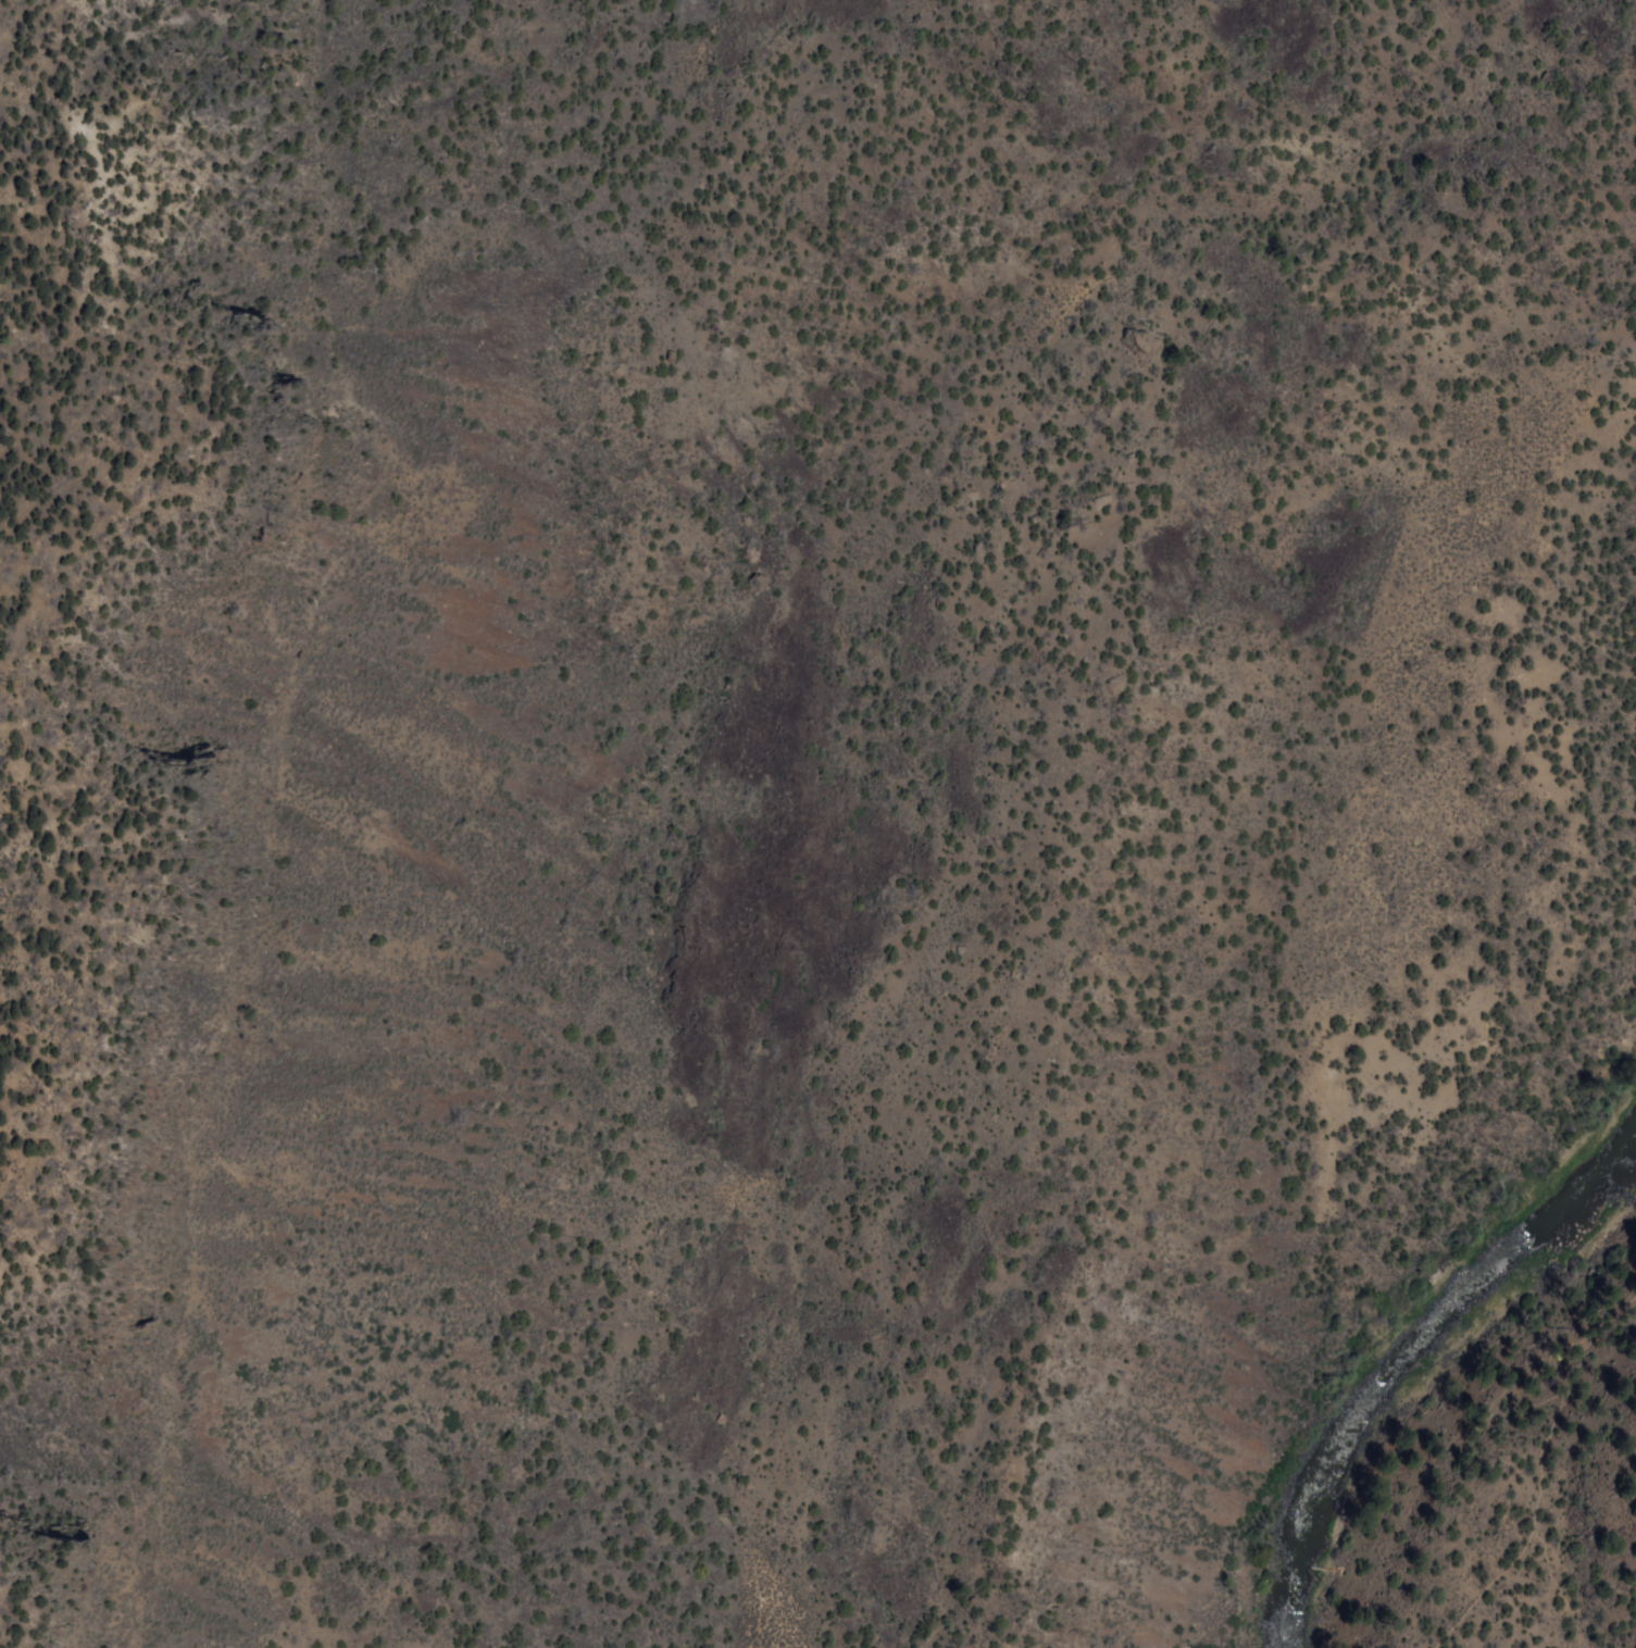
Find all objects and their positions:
river: (1407, 1361)
road: (1433, 1466)
road: (1543, 1476)

